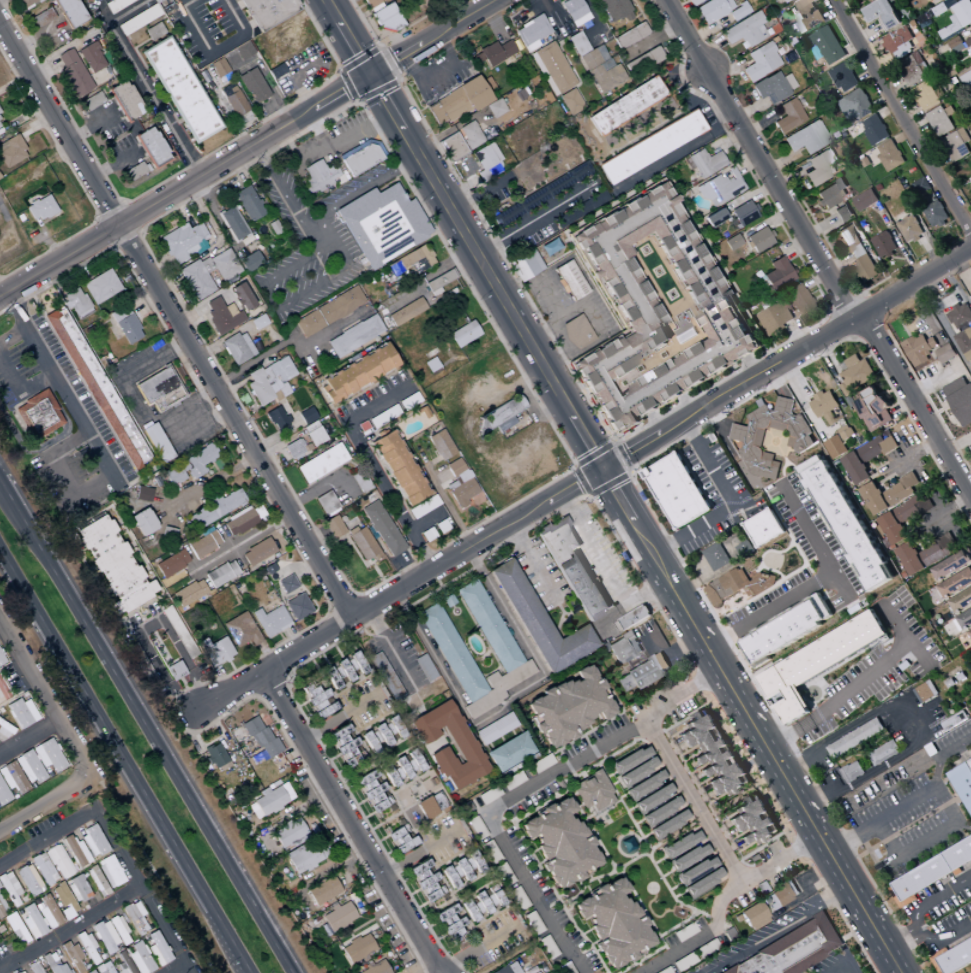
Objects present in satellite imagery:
road: (1, 0)
road: (328, 1)
building: (782, 1)
building: (931, 1)
building: (26, 2)
building: (692, 2)
building: (160, 3)
road: (187, 3)
building: (371, 3)
building: (116, 4)
building: (943, 7)
building: (712, 9)
building: (612, 10)
building: (69, 12)
building: (268, 12)
building: (574, 12)
building: (738, 12)
building: (882, 14)
building: (807, 15)
building: (40, 18)
building: (140, 18)
building: (385, 18)
building: (958, 18)
building: (745, 30)
building: (154, 31)
building: (531, 33)
building: (630, 35)
road: (346, 36)
road: (431, 36)
building: (899, 43)
building: (826, 45)
building: (958, 45)
road: (215, 48)
building: (243, 51)
building: (494, 53)
building: (91, 57)
building: (642, 60)
building: (760, 62)
building: (596, 64)
building: (218, 67)
building: (551, 68)
building: (913, 69)
building: (276, 71)
building: (73, 73)
traffic signals: (368, 74)
building: (843, 78)
building: (967, 80)
building: (253, 86)
building: (773, 87)
building: (180, 90)
building: (925, 96)
road: (151, 97)
building: (91, 101)
building: (125, 101)
building: (457, 102)
building: (570, 102)
building: (234, 104)
building: (856, 105)
building: (625, 106)
building: (494, 108)
road: (904, 115)
building: (788, 116)
building: (940, 122)
building: (1, 129)
building: (874, 130)
building: (469, 135)
building: (806, 138)
building: (956, 145)
building: (452, 147)
building: (650, 148)
building: (11, 151)
road: (674, 151)
building: (148, 154)
building: (890, 155)
building: (361, 158)
road: (760, 160)
building: (486, 161)
building: (705, 163)
building: (820, 167)
building: (320, 177)
building: (970, 179)
road: (185, 186)
building: (921, 187)
building: (718, 189)
building: (541, 194)
building: (830, 194)
building: (597, 200)
building: (865, 200)
building: (248, 203)
building: (40, 209)
building: (842, 213)
building: (742, 214)
building: (935, 215)
building: (714, 218)
road: (529, 222)
building: (232, 223)
building: (382, 226)
building: (910, 229)
building: (759, 239)
building: (182, 241)
building: (731, 242)
building: (884, 245)
building: (551, 247)
building: (855, 251)
building: (250, 261)
building: (411, 261)
building: (224, 265)
building: (525, 265)
building: (777, 274)
building: (197, 278)
road: (427, 279)
building: (570, 280)
building: (102, 288)
building: (241, 296)
building: (797, 300)
building: (76, 303)
building: (655, 309)
building: (328, 311)
building: (405, 312)
building: (221, 315)
building: (960, 316)
road: (561, 317)
building: (775, 318)
road: (176, 323)
road: (944, 326)
building: (127, 328)
building: (576, 332)
road: (12, 334)
building: (463, 334)
building: (354, 336)
building: (964, 343)
road: (282, 345)
building: (237, 348)
building: (918, 349)
building: (945, 353)
road: (752, 366)
building: (856, 369)
building: (358, 373)
building: (269, 381)
road: (57, 383)
road: (42, 385)
building: (98, 387)
road: (19, 392)
building: (157, 394)
building: (960, 401)
road: (376, 404)
road: (689, 404)
building: (823, 404)
road: (917, 404)
road: (54, 405)
building: (873, 409)
building: (501, 413)
building: (39, 414)
building: (306, 415)
building: (276, 418)
road: (659, 422)
road: (718, 422)
building: (315, 436)
building: (800, 442)
building: (158, 444)
building: (440, 445)
building: (970, 446)
building: (835, 447)
road: (29, 449)
building: (294, 449)
building: (866, 458)
building: (320, 463)
building: (187, 467)
building: (398, 468)
traffic signals: (604, 470)
road: (62, 473)
road: (584, 481)
road: (212, 482)
road: (320, 484)
building: (461, 487)
building: (677, 491)
building: (142, 494)
building: (889, 494)
road: (388, 496)
building: (325, 503)
road: (731, 503)
building: (422, 507)
building: (215, 508)
building: (241, 520)
building: (143, 522)
building: (898, 522)
road: (635, 523)
building: (847, 526)
building: (333, 527)
building: (764, 528)
building: (382, 529)
building: (556, 538)
building: (203, 544)
building: (362, 544)
road: (231, 551)
building: (257, 552)
building: (925, 555)
building: (716, 557)
building: (171, 564)
road: (534, 564)
building: (114, 565)
building: (952, 565)
road: (611, 571)
building: (220, 574)
building: (956, 583)
building: (286, 584)
building: (737, 586)
road: (811, 586)
building: (582, 587)
building: (188, 593)
building: (961, 600)
building: (297, 607)
building: (270, 621)
building: (539, 622)
road: (149, 627)
building: (240, 630)
building: (787, 630)
building: (492, 631)
building: (970, 631)
building: (179, 639)
road: (389, 647)
building: (624, 648)
building: (215, 651)
building: (1, 659)
building: (456, 661)
building: (817, 664)
building: (424, 668)
building: (344, 670)
building: (174, 671)
building: (642, 673)
building: (385, 677)
building: (154, 678)
road: (39, 690)
building: (926, 692)
road: (836, 703)
building: (568, 707)
road: (195, 709)
building: (21, 713)
building: (954, 721)
road: (147, 727)
road: (857, 727)
building: (495, 729)
building: (4, 730)
road: (28, 737)
building: (855, 738)
building: (462, 745)
building: (508, 752)
building: (884, 753)
building: (48, 755)
building: (215, 755)
building: (713, 756)
building: (630, 759)
road: (944, 759)
road: (121, 764)
building: (540, 764)
building: (28, 767)
building: (635, 772)
building: (852, 772)
building: (11, 777)
road: (867, 777)
building: (511, 781)
building: (962, 783)
building: (644, 784)
road: (526, 788)
building: (592, 792)
building: (2, 795)
building: (488, 795)
road: (944, 796)
building: (375, 797)
building: (652, 798)
building: (269, 799)
road: (691, 801)
road: (48, 803)
building: (430, 805)
building: (660, 811)
building: (753, 821)
road: (351, 822)
building: (668, 824)
road: (965, 825)
building: (289, 834)
building: (400, 839)
road: (49, 841)
building: (92, 841)
building: (559, 843)
building: (680, 843)
building: (487, 847)
building: (75, 851)
building: (305, 857)
building: (687, 857)
building: (58, 862)
building: (43, 869)
building: (695, 870)
building: (109, 871)
building: (928, 873)
building: (28, 880)
building: (96, 881)
building: (425, 881)
building: (702, 882)
building: (9, 889)
building: (76, 889)
building: (323, 890)
building: (783, 894)
road: (146, 897)
road: (723, 899)
building: (65, 902)
building: (484, 903)
building: (2, 909)
building: (753, 916)
building: (134, 917)
building: (338, 917)
building: (31, 922)
building: (451, 923)
building: (612, 923)
road: (916, 923)
building: (15, 928)
road: (71, 929)
building: (118, 930)
road: (781, 931)
building: (104, 936)
road: (901, 942)
building: (88, 948)
road: (227, 948)
building: (357, 948)
building: (156, 949)
building: (794, 949)
building: (954, 954)
building: (71, 956)
building: (133, 961)
building: (53, 964)
building: (34, 968)
building: (103, 968)
road: (178, 968)
building: (507, 968)
building: (374, 969)
road: (841, 969)
road: (849, 969)
building: (21, 972)
building: (90, 972)
building: (970, 972)

